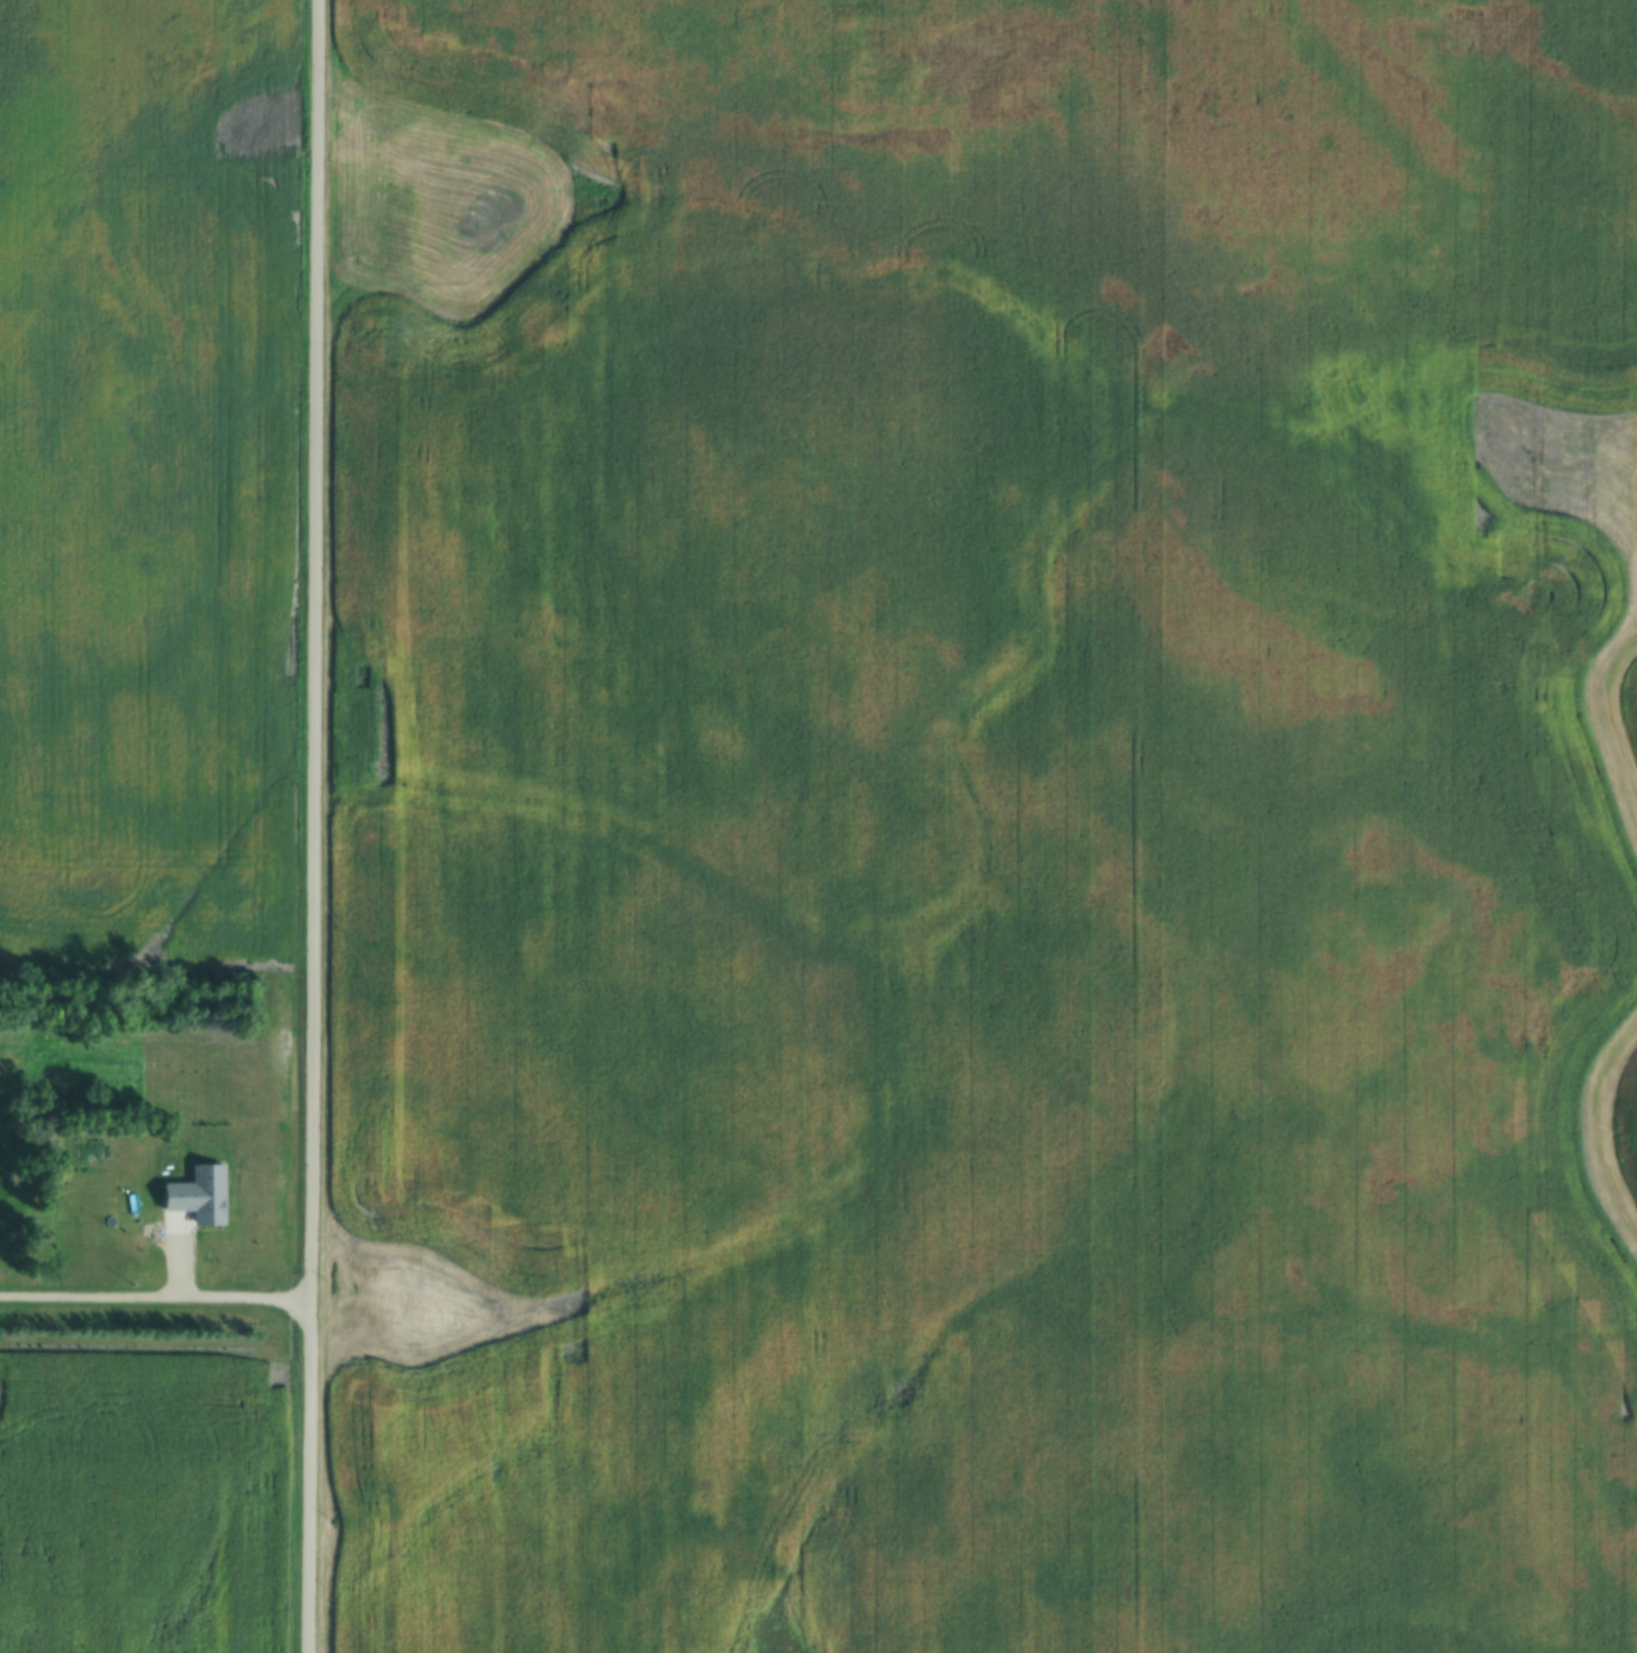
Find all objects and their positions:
road: (316, 826)
road: (157, 1300)

